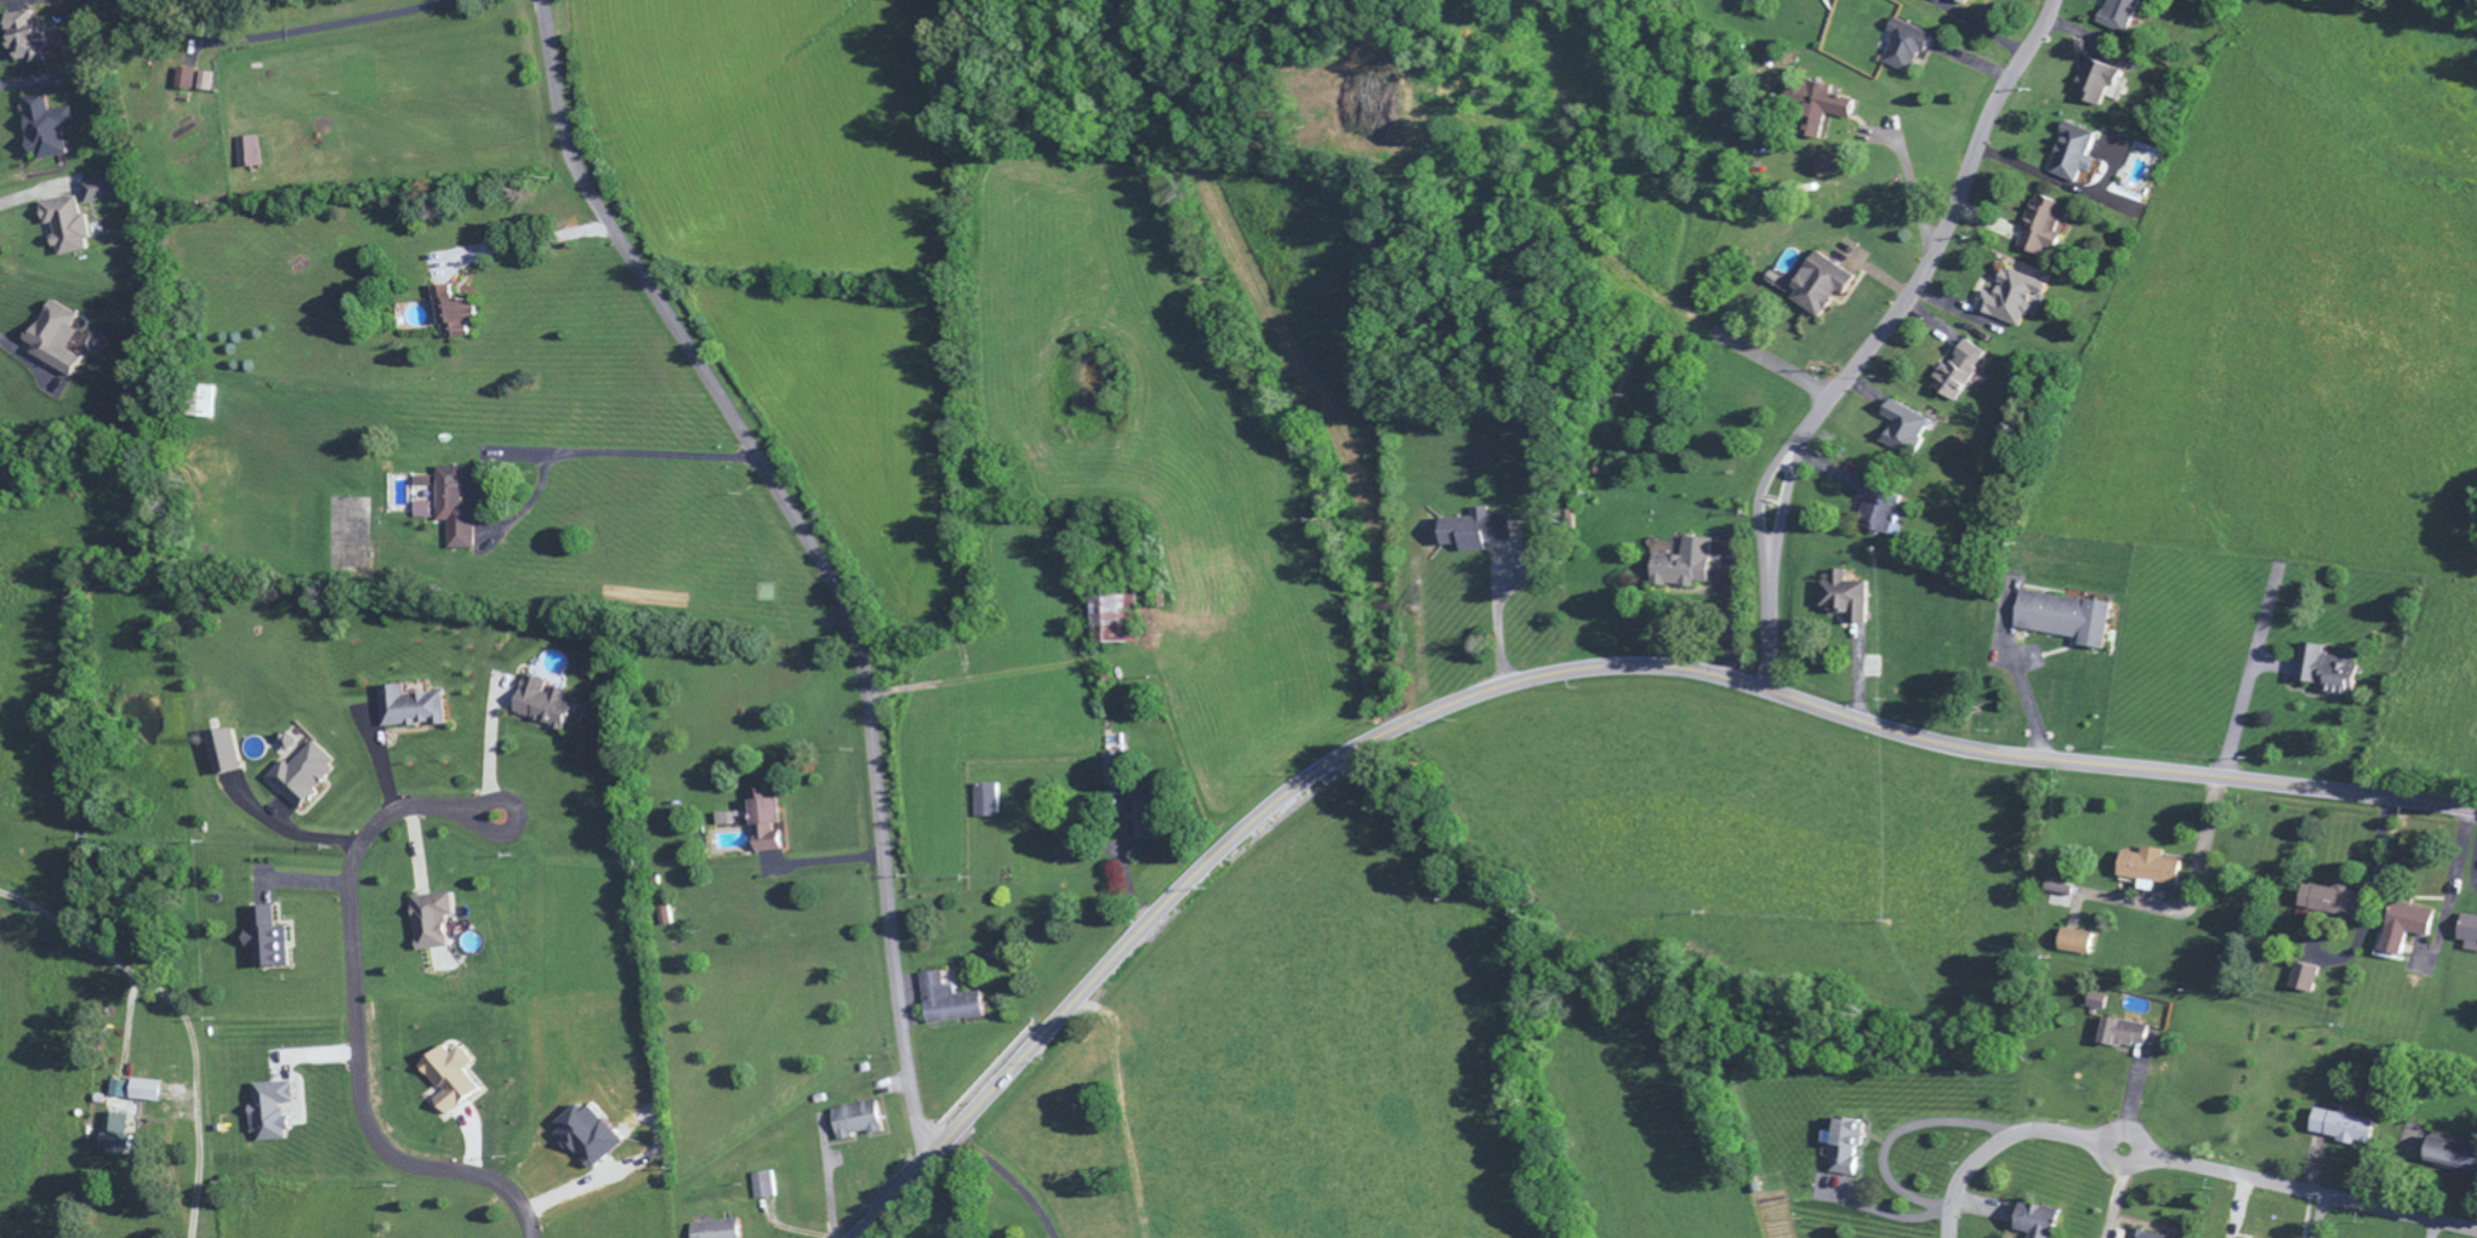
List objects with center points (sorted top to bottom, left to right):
building: (1919, 0)
building: (1977, 0)
building: (1963, 2)
building: (2122, 16)
building: (24, 40)
building: (1907, 50)
building: (186, 81)
building: (205, 84)
building: (2099, 84)
building: (1824, 110)
building: (45, 131)
building: (247, 155)
building: (2075, 155)
building: (1833, 166)
building: (99, 192)
building: (2044, 228)
building: (66, 229)
building: (1820, 287)
building: (2014, 301)
building: (452, 315)
road: (1880, 337)
building: (53, 342)
road: (1775, 366)
building: (1960, 373)
building: (1901, 430)
road: (1761, 498)
building: (456, 508)
building: (1877, 510)
building: (422, 514)
building: (1475, 534)
road: (815, 552)
building: (1682, 567)
building: (1844, 600)
building: (2067, 621)
building: (1117, 623)
road: (1564, 672)
building: (2323, 673)
building: (543, 707)
building: (411, 712)
building: (287, 746)
building: (223, 757)
building: (1115, 772)
building: (303, 778)
building: (986, 804)
road: (482, 808)
building: (1148, 817)
building: (764, 826)
road: (479, 827)
building: (2149, 872)
building: (2060, 892)
building: (2331, 905)
building: (662, 919)
building: (433, 924)
building: (2408, 930)
building: (267, 943)
building: (2077, 946)
building: (2304, 982)
building: (949, 1005)
building: (2124, 1036)
road: (358, 1044)
building: (449, 1082)
building: (118, 1091)
building: (147, 1094)
building: (272, 1114)
building: (859, 1125)
building: (2342, 1129)
building: (116, 1139)
building: (587, 1140)
building: (1846, 1148)
building: (2454, 1158)
road: (2122, 1162)
road: (2182, 1164)
building: (761, 1188)
building: (2038, 1222)
building: (717, 1231)
building: (2142, 1236)

